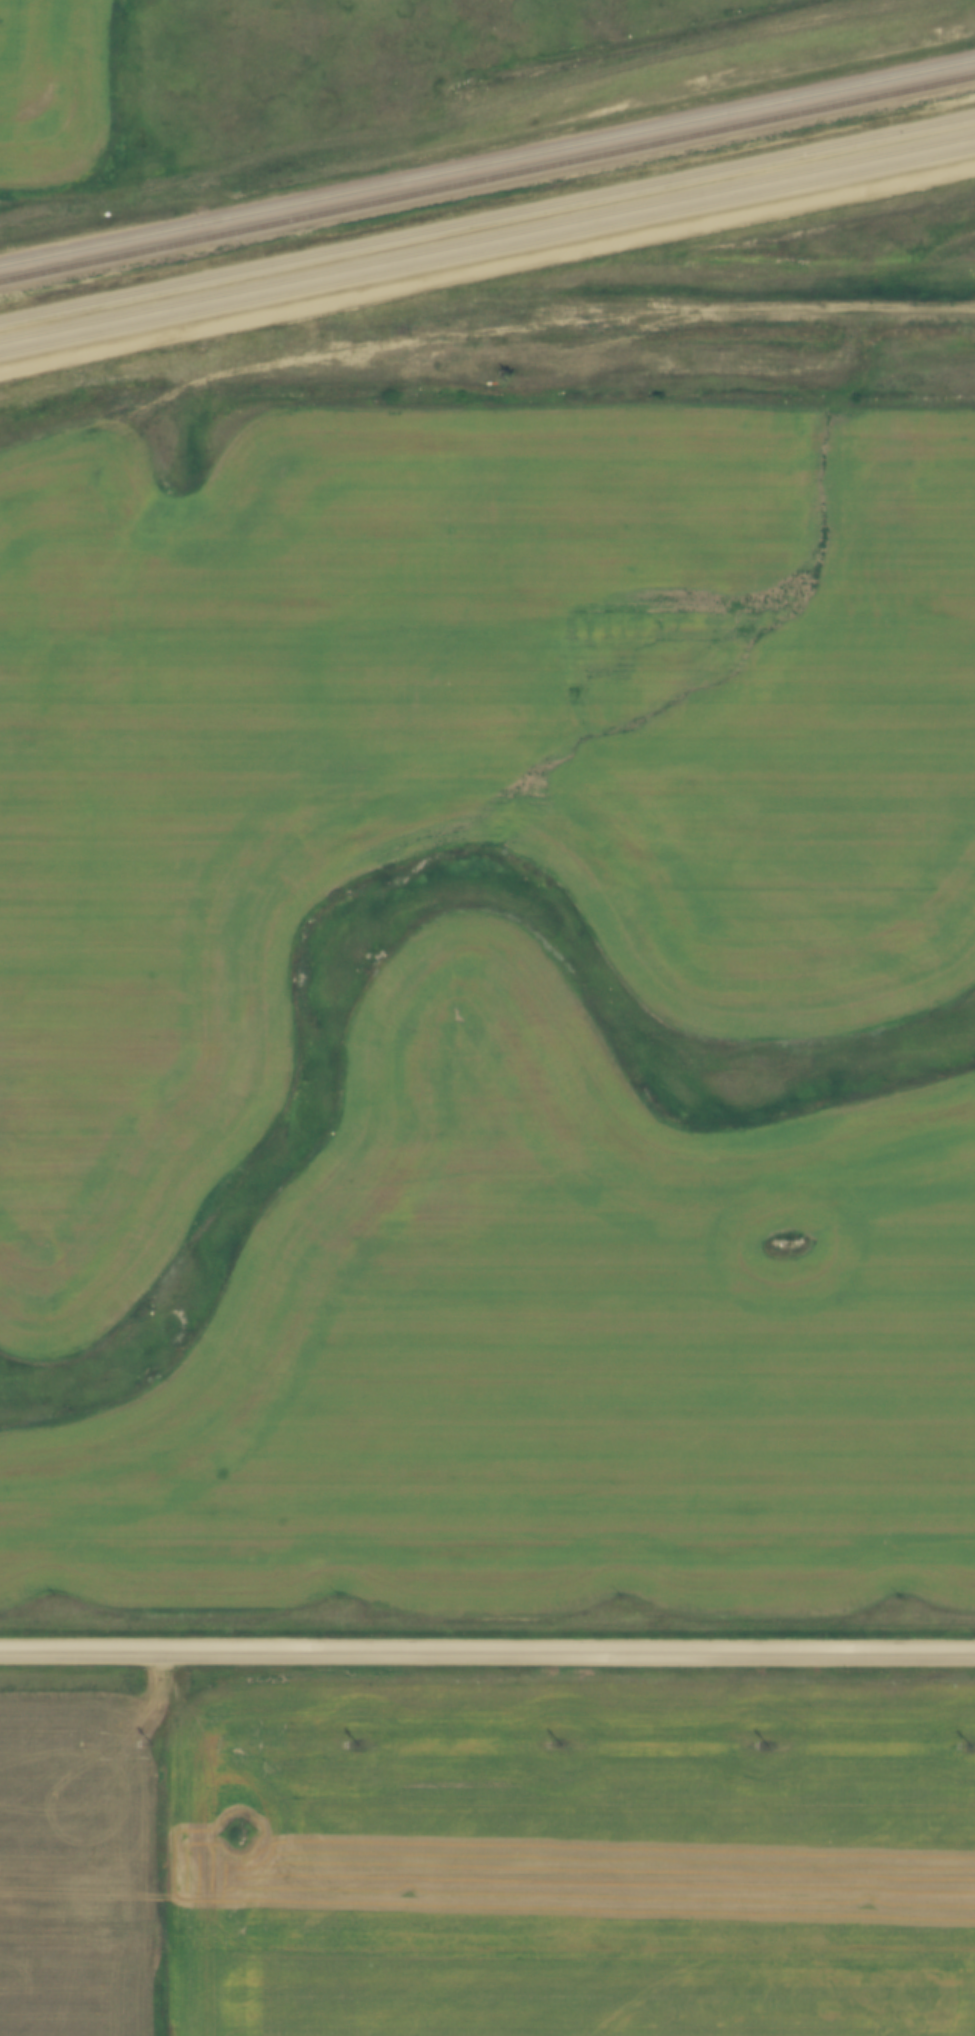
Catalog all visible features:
railway: (487, 160)
railway: (487, 175)
railway: (487, 215)
railway: (487, 232)
railway: (487, 249)
road: (487, 1652)

